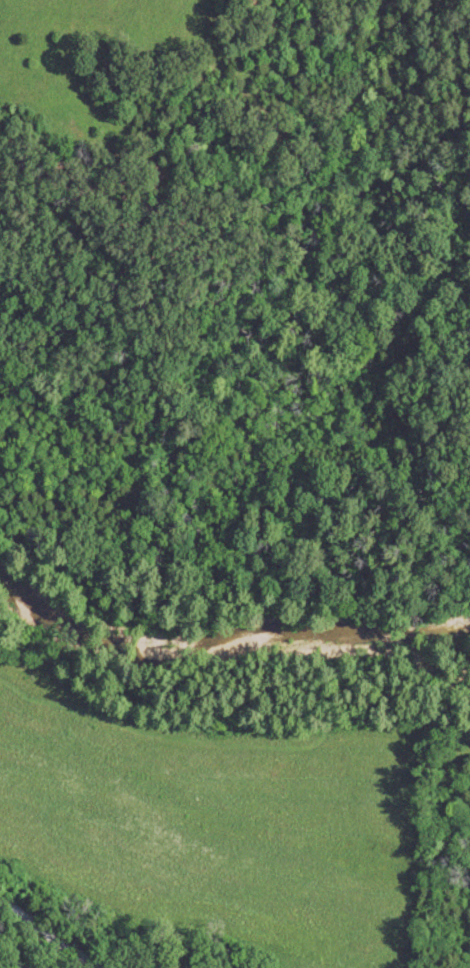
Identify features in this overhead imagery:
river: (228, 655)
road: (79, 924)

